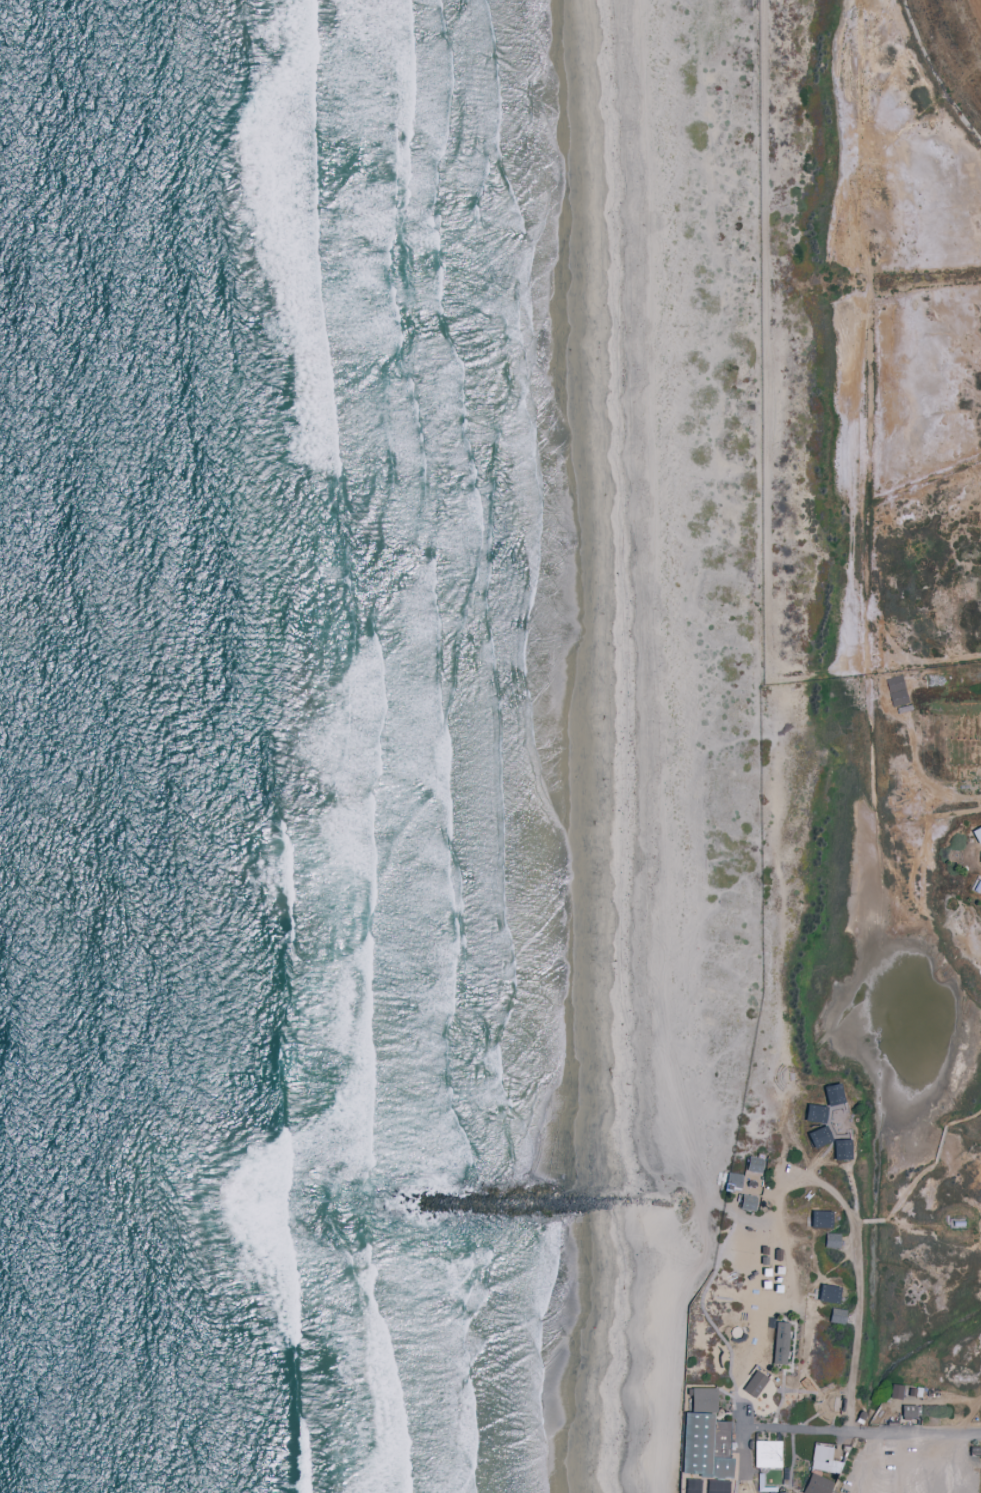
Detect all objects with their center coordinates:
building: (969, 672)
building: (975, 833)
building: (979, 856)
building: (829, 1094)
building: (811, 1112)
building: (815, 1136)
building: (837, 1148)
building: (750, 1164)
building: (730, 1179)
building: (816, 1218)
building: (828, 1240)
road: (859, 1280)
building: (824, 1293)
building: (837, 1316)
park: (737, 1332)
building: (781, 1342)
building: (754, 1384)
building: (892, 1391)
building: (905, 1411)
road: (863, 1428)
building: (707, 1436)
building: (768, 1454)
building: (823, 1461)
building: (818, 1486)

